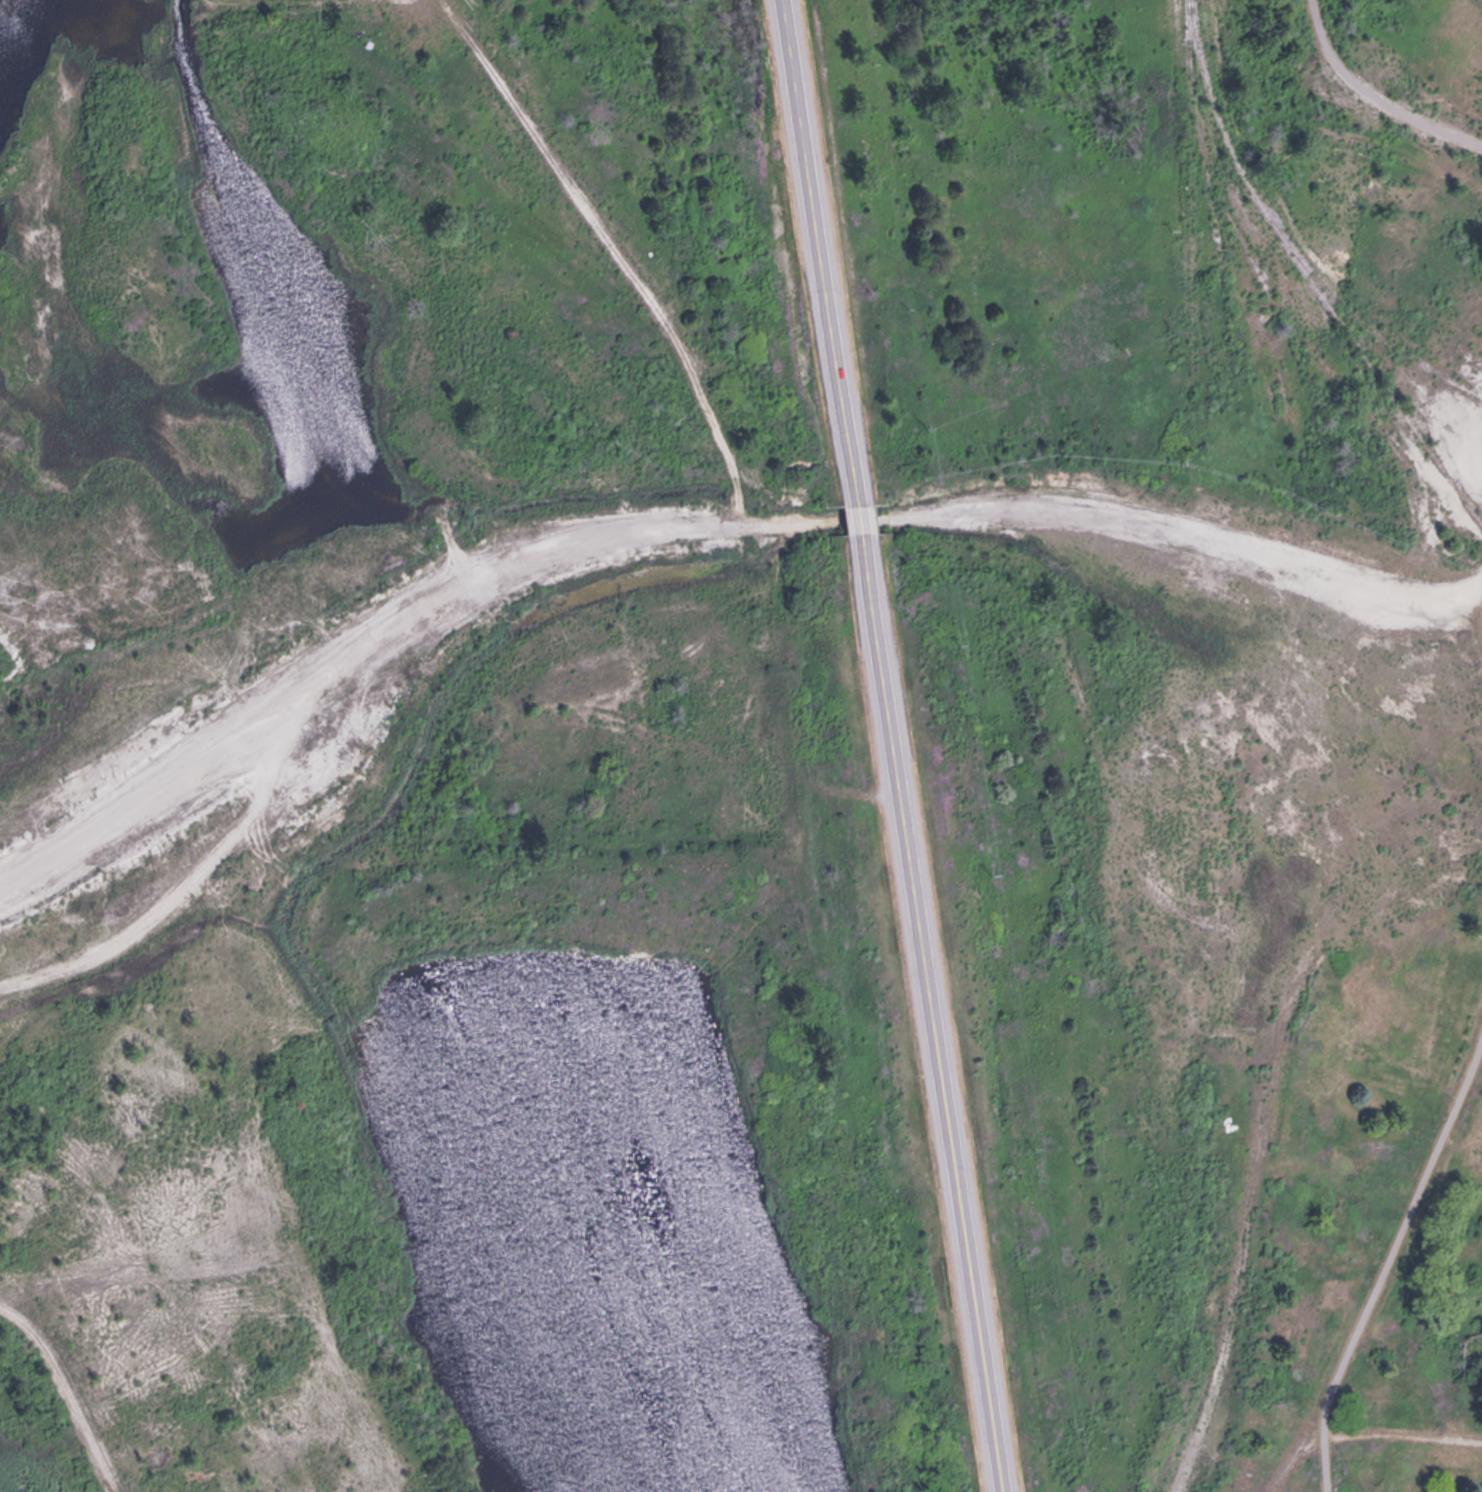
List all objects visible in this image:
road: (1366, 99)
road: (617, 247)
road: (820, 250)
road: (859, 516)
road: (698, 529)
road: (173, 889)
road: (926, 1012)
road: (1398, 1215)
road: (51, 1408)

